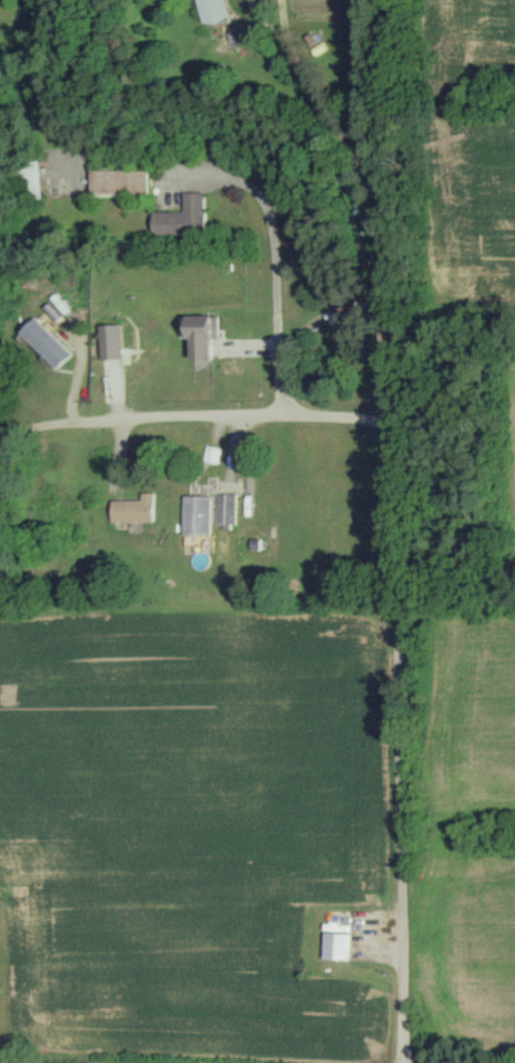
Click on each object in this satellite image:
building: (218, 10)
road: (393, 106)
building: (29, 179)
building: (118, 180)
road: (381, 199)
building: (177, 216)
road: (262, 262)
building: (352, 304)
building: (195, 335)
building: (49, 342)
road: (192, 416)
building: (205, 453)
building: (224, 507)
building: (133, 509)
building: (195, 514)
building: (220, 552)
road: (400, 743)
building: (336, 945)

